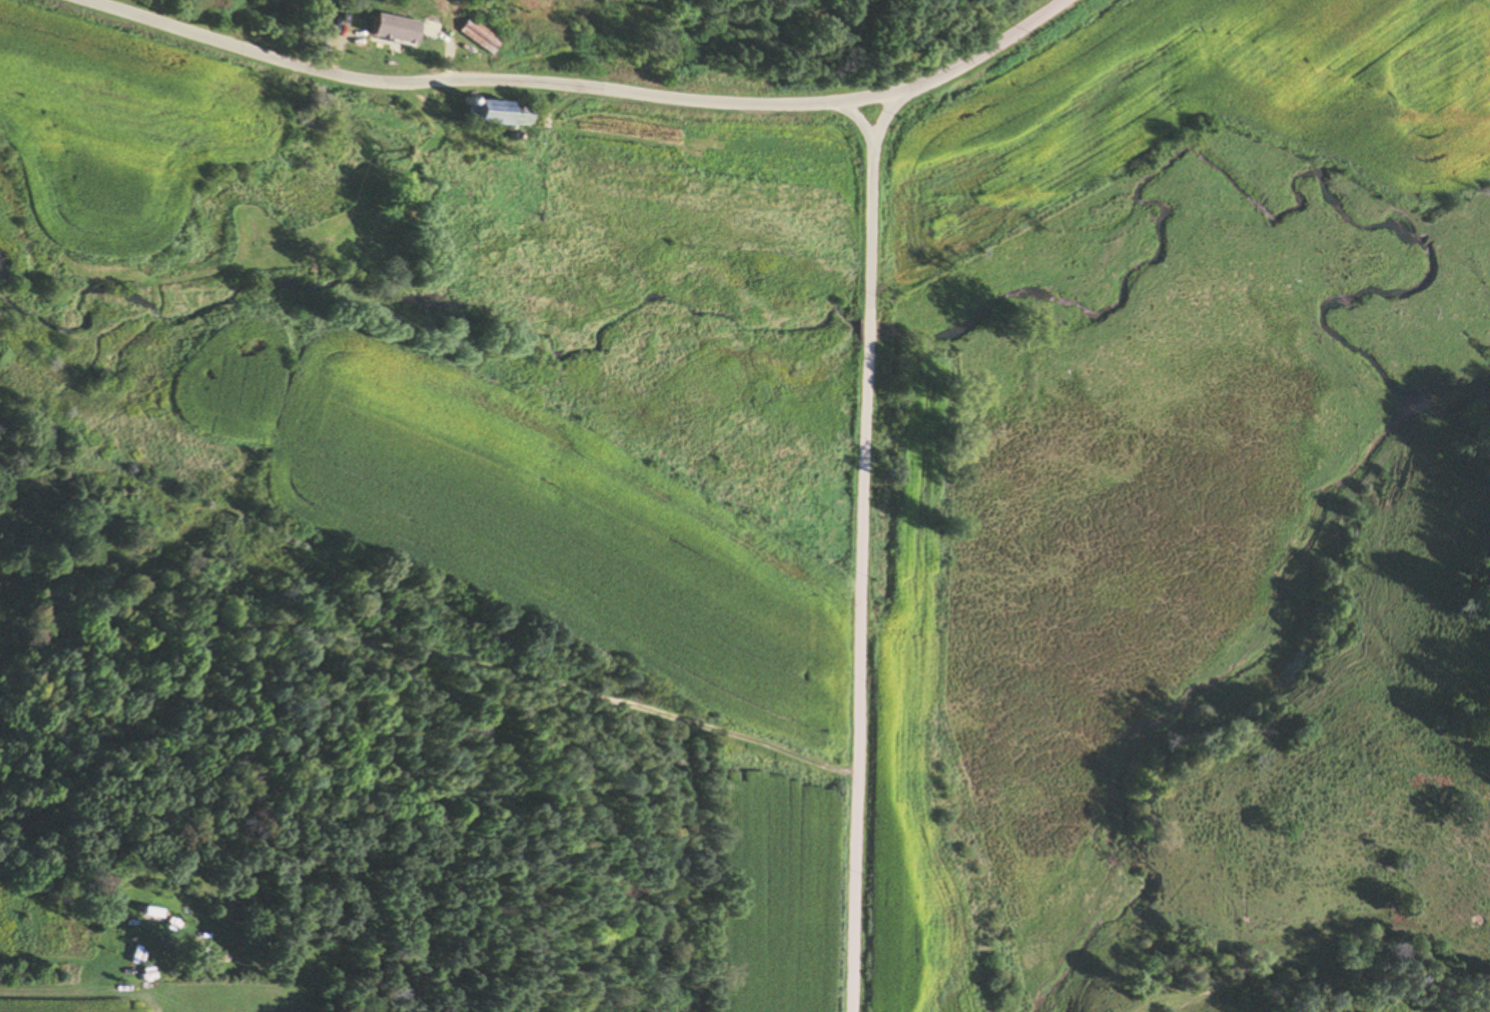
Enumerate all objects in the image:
building: (423, 26)
building: (367, 27)
building: (478, 35)
road: (578, 90)
building: (498, 113)
road: (885, 116)
crop: (124, 117)
road: (870, 218)
crop: (565, 543)
road: (858, 677)
building: (158, 958)
crop: (156, 997)

